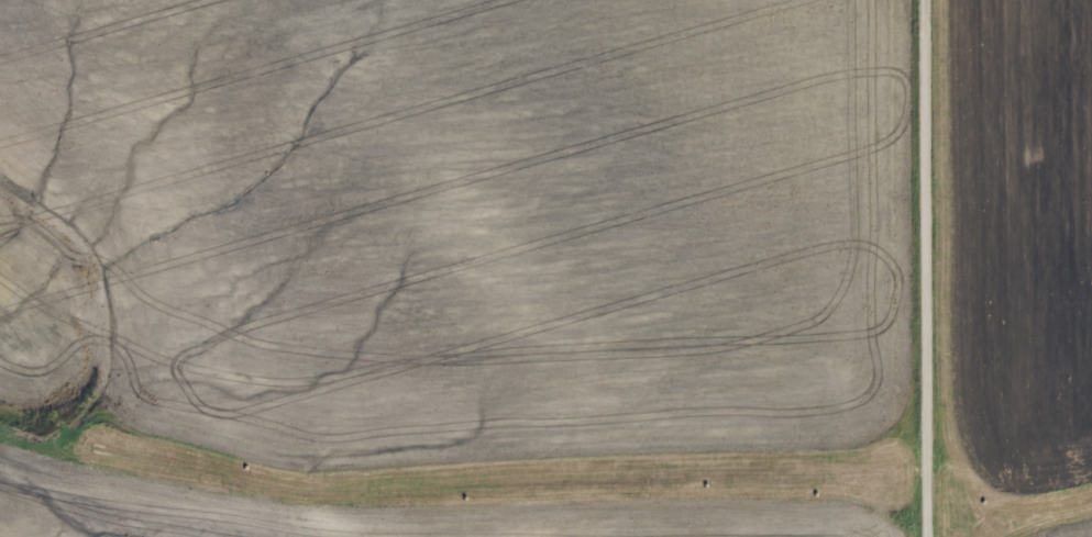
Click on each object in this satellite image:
road: (926, 268)

